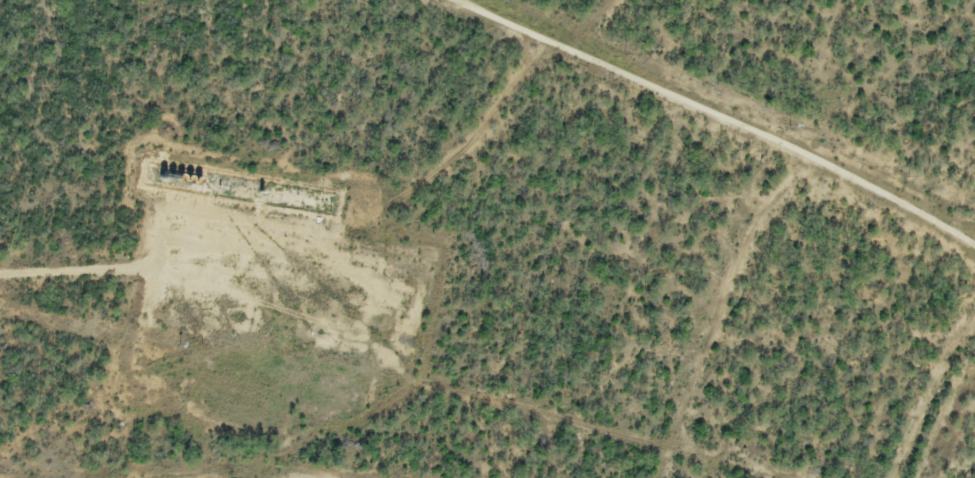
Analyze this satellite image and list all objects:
road: (714, 117)
road: (143, 274)

